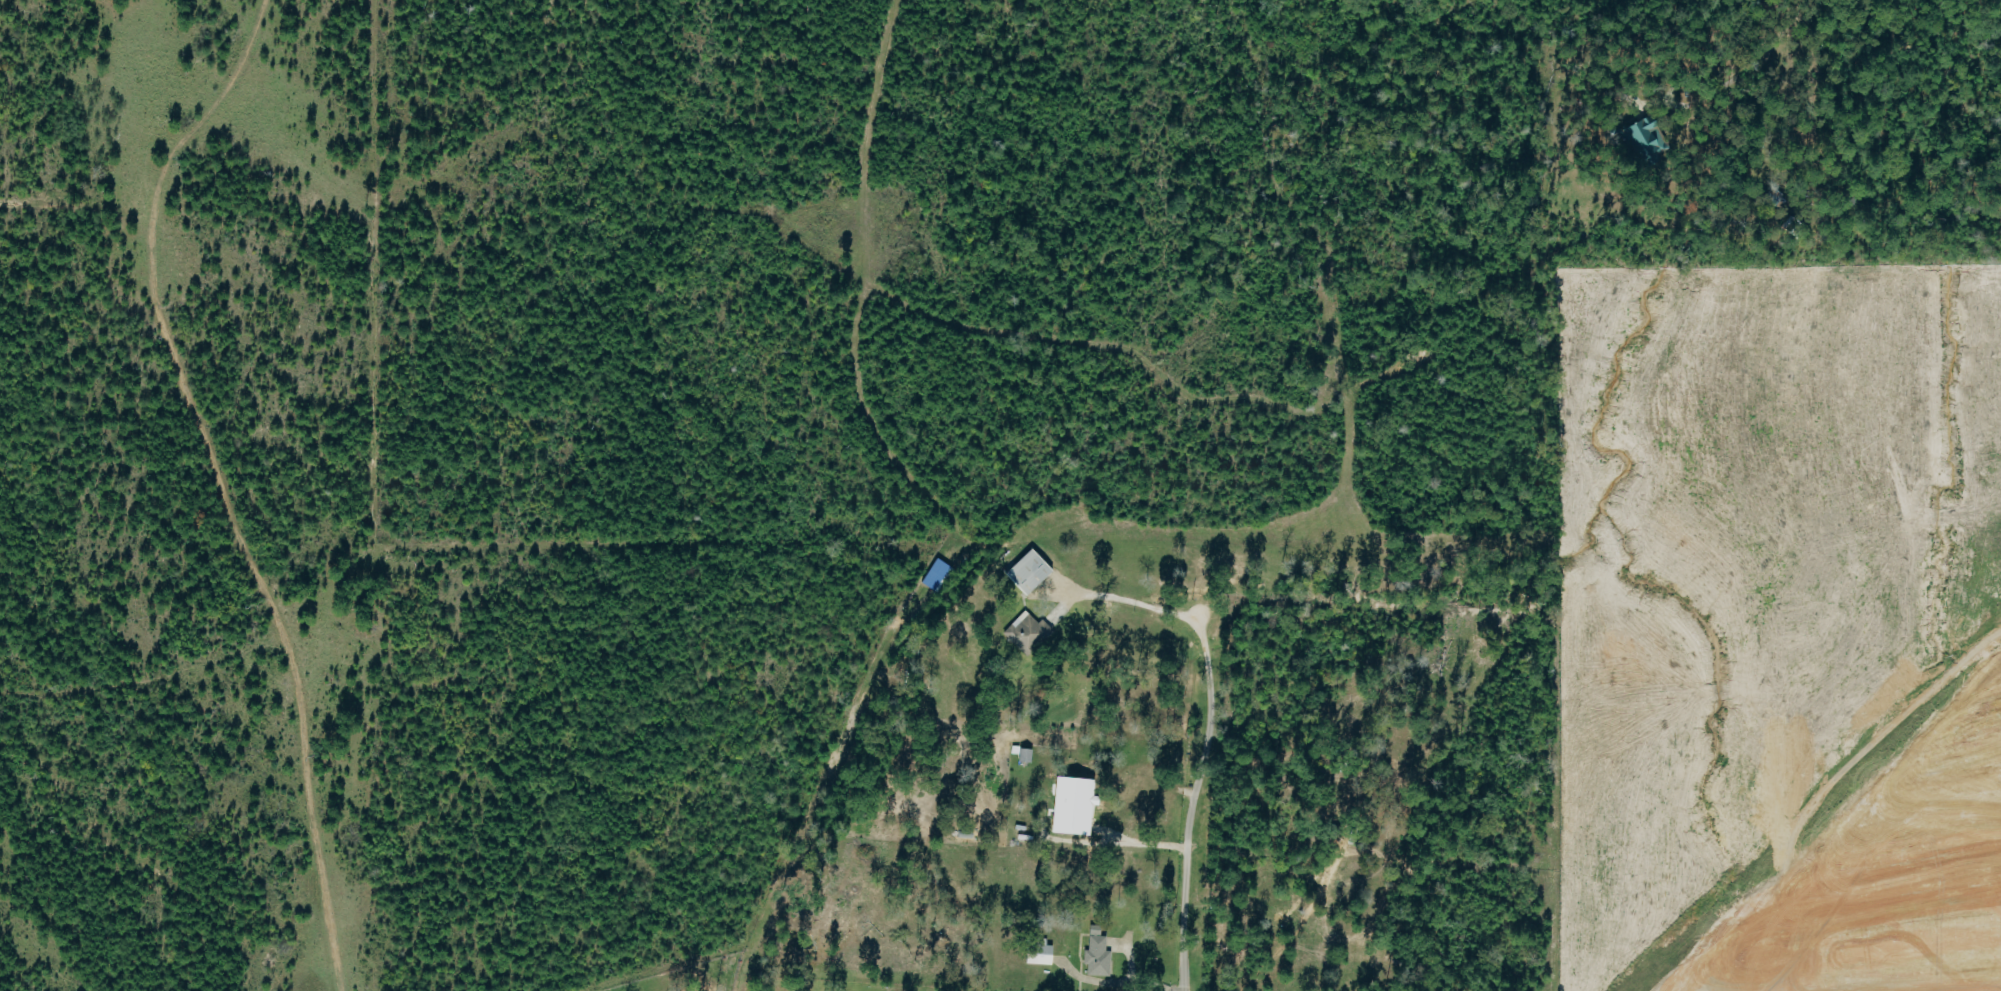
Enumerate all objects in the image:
building: (1644, 140)
building: (1030, 572)
building: (937, 575)
road: (54, 589)
building: (1028, 632)
road: (1206, 746)
building: (1026, 755)
road: (1838, 787)
building: (1075, 806)
road: (1137, 846)
building: (1040, 952)
building: (1098, 954)
road: (1132, 972)
park: (683, 977)

